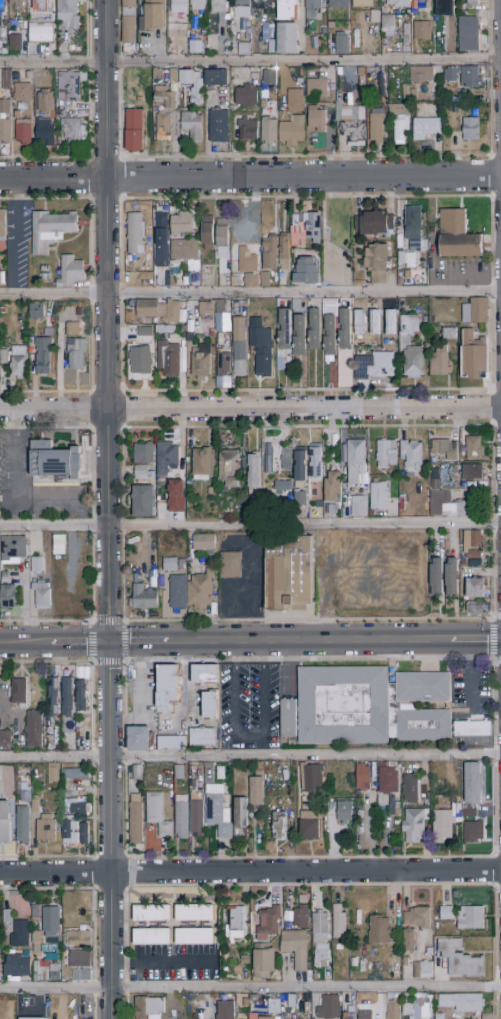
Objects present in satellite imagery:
building: (418, 1)
building: (17, 3)
building: (198, 3)
building: (398, 3)
building: (472, 3)
building: (338, 4)
building: (362, 4)
building: (262, 5)
building: (43, 6)
building: (312, 8)
building: (445, 8)
building: (241, 9)
building: (219, 10)
building: (287, 10)
building: (1, 11)
building: (68, 15)
building: (151, 15)
building: (177, 15)
building: (375, 17)
building: (130, 22)
building: (388, 23)
building: (331, 28)
building: (422, 30)
building: (42, 32)
building: (324, 32)
building: (469, 35)
building: (288, 38)
building: (15, 42)
building: (343, 45)
building: (196, 48)
building: (38, 49)
building: (244, 49)
road: (250, 62)
building: (451, 74)
building: (159, 75)
building: (421, 75)
building: (172, 77)
building: (471, 77)
building: (216, 78)
building: (5, 82)
building: (268, 83)
building: (70, 86)
building: (194, 87)
building: (317, 88)
building: (406, 92)
building: (23, 93)
building: (247, 97)
building: (166, 98)
building: (139, 100)
building: (294, 101)
building: (46, 102)
building: (263, 104)
building: (317, 120)
building: (5, 121)
building: (350, 122)
building: (399, 122)
building: (193, 126)
building: (219, 126)
building: (164, 127)
building: (426, 128)
building: (376, 129)
building: (470, 129)
building: (73, 131)
building: (134, 131)
road: (206, 131)
building: (248, 131)
building: (269, 131)
building: (24, 132)
building: (293, 132)
building: (46, 133)
road: (250, 177)
building: (182, 224)
building: (373, 224)
building: (3, 226)
building: (414, 229)
building: (51, 230)
building: (134, 232)
building: (207, 232)
building: (307, 232)
building: (458, 236)
road: (15, 238)
building: (162, 238)
building: (223, 238)
park: (336, 241)
building: (183, 250)
building: (270, 253)
building: (284, 254)
building: (407, 260)
building: (377, 263)
building: (248, 269)
building: (307, 272)
building: (71, 273)
building: (160, 279)
building: (265, 280)
road: (250, 295)
building: (220, 307)
building: (151, 309)
building: (206, 310)
building: (36, 311)
building: (476, 311)
building: (80, 312)
building: (176, 313)
road: (108, 321)
building: (222, 322)
building: (330, 326)
building: (314, 329)
building: (344, 329)
building: (74, 330)
building: (284, 330)
building: (449, 335)
building: (300, 336)
building: (261, 347)
building: (240, 348)
building: (77, 354)
building: (43, 356)
building: (4, 357)
building: (474, 357)
building: (168, 359)
building: (141, 361)
building: (19, 362)
building: (440, 362)
building: (414, 363)
building: (223, 364)
building: (381, 365)
building: (201, 366)
road: (250, 409)
building: (473, 448)
building: (445, 449)
building: (143, 454)
building: (387, 454)
building: (410, 455)
building: (286, 456)
building: (167, 458)
building: (356, 461)
building: (315, 462)
building: (54, 463)
building: (202, 464)
building: (230, 469)
building: (300, 470)
building: (255, 471)
building: (142, 473)
building: (472, 473)
building: (435, 479)
building: (284, 486)
building: (332, 487)
building: (212, 491)
road: (18, 495)
building: (176, 496)
building: (379, 496)
building: (300, 498)
building: (289, 500)
building: (143, 502)
building: (448, 506)
building: (360, 507)
road: (250, 526)
building: (59, 541)
building: (473, 541)
building: (205, 543)
building: (13, 548)
building: (474, 558)
building: (173, 565)
building: (37, 566)
building: (230, 566)
building: (289, 573)
building: (4, 577)
building: (437, 577)
building: (452, 577)
building: (477, 588)
building: (201, 590)
building: (178, 593)
building: (42, 595)
building: (8, 597)
building: (143, 597)
building: (479, 608)
road: (476, 640)
road: (309, 641)
road: (80, 643)
road: (138, 643)
road: (26, 644)
building: (80, 673)
road: (471, 673)
building: (205, 675)
building: (167, 685)
building: (19, 692)
building: (82, 696)
building: (67, 697)
building: (53, 698)
building: (210, 706)
building: (370, 706)
building: (288, 719)
building: (78, 726)
building: (472, 728)
building: (34, 729)
building: (57, 736)
building: (202, 737)
road: (248, 738)
building: (139, 739)
building: (5, 741)
building: (172, 742)
road: (250, 756)
building: (208, 767)
building: (136, 772)
building: (53, 773)
building: (179, 773)
building: (220, 773)
building: (76, 774)
building: (363, 777)
building: (312, 778)
building: (7, 779)
building: (388, 780)
building: (449, 783)
building: (473, 783)
building: (434, 785)
building: (411, 789)
building: (256, 790)
building: (458, 793)
building: (269, 794)
building: (25, 796)
building: (458, 800)
building: (270, 803)
building: (35, 804)
building: (454, 805)
building: (79, 808)
building: (218, 812)
building: (344, 812)
building: (241, 813)
building: (395, 813)
building: (157, 814)
building: (196, 815)
building: (181, 817)
building: (136, 820)
building: (5, 822)
building: (23, 824)
building: (443, 824)
building: (471, 824)
building: (279, 825)
building: (310, 825)
building: (414, 826)
building: (46, 829)
building: (70, 830)
road: (110, 830)
building: (85, 834)
road: (250, 872)
building: (35, 912)
building: (194, 913)
building: (446, 913)
building: (152, 914)
building: (0, 916)
building: (8, 917)
building: (301, 917)
building: (418, 918)
building: (471, 918)
building: (237, 923)
building: (269, 923)
building: (339, 923)
building: (51, 925)
building: (288, 926)
building: (320, 928)
building: (379, 931)
building: (21, 935)
building: (152, 937)
building: (194, 937)
building: (37, 938)
building: (78, 939)
building: (409, 940)
building: (295, 948)
building: (338, 948)
building: (48, 953)
building: (429, 953)
building: (80, 960)
building: (245, 960)
building: (461, 960)
building: (264, 961)
building: (405, 962)
building: (0, 963)
road: (162, 963)
building: (354, 963)
building: (17, 967)
building: (376, 967)
building: (37, 970)
building: (423, 971)
building: (77, 975)
building: (55, 976)
road: (250, 988)
building: (347, 998)
building: (241, 1001)
building: (463, 1003)
building: (148, 1007)
building: (226, 1007)
building: (419, 1007)
building: (329, 1008)
building: (307, 1009)
building: (394, 1009)
building: (363, 1014)
building: (349, 1016)
building: (253, 1017)
building: (277, 1017)
building: (440, 1017)
building: (28, 1018)
building: (266, 1018)

